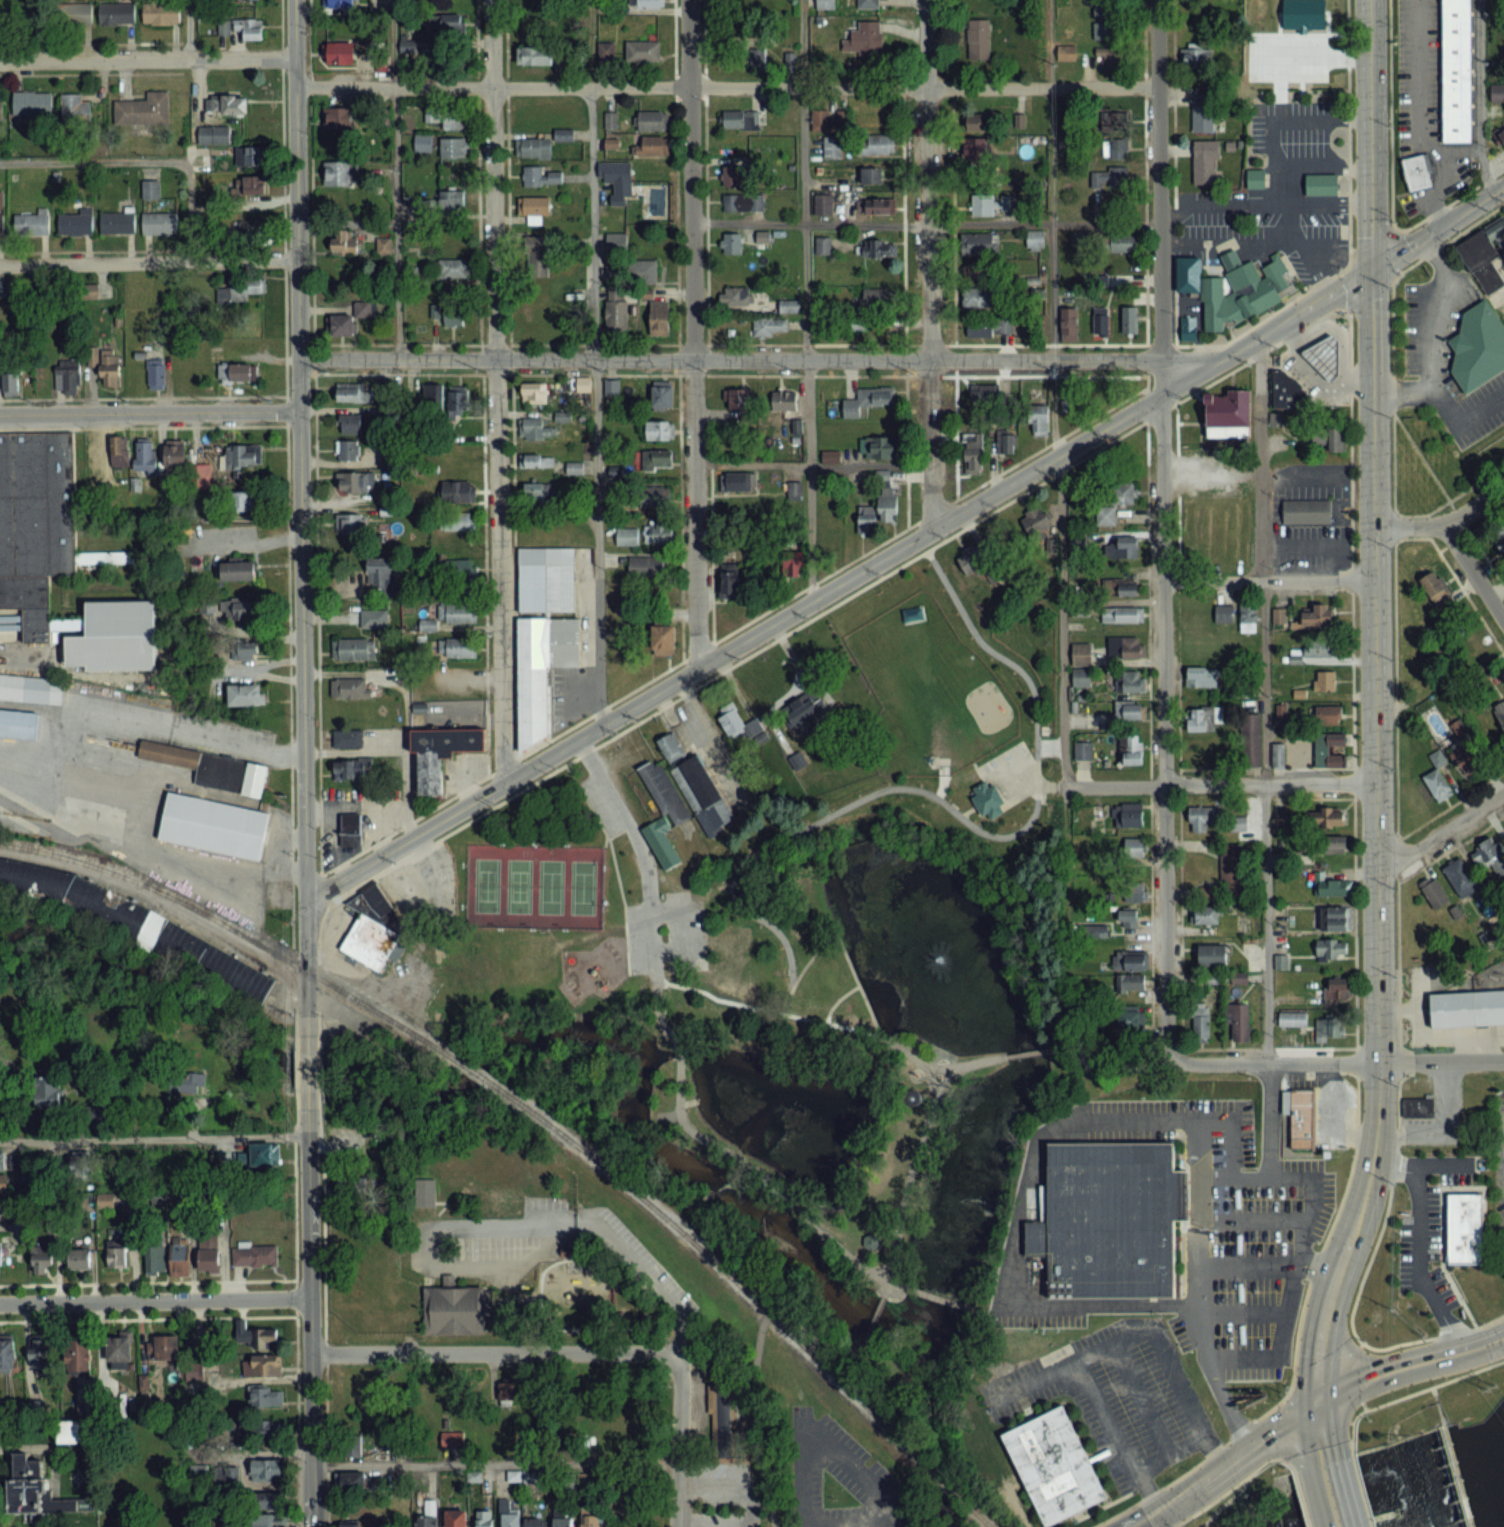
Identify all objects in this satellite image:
building: (246, 0)
building: (338, 3)
building: (650, 3)
building: (867, 4)
building: (74, 13)
building: (161, 13)
building: (116, 14)
building: (445, 23)
building: (1102, 23)
building: (223, 26)
road: (188, 28)
building: (249, 28)
building: (864, 39)
building: (978, 39)
building: (1314, 39)
building: (410, 49)
building: (606, 51)
building: (643, 51)
building: (338, 53)
building: (1067, 53)
building: (534, 56)
building: (1198, 56)
road: (147, 57)
building: (1109, 57)
building: (382, 65)
building: (1453, 69)
road: (727, 85)
building: (994, 85)
building: (1497, 93)
road: (1476, 99)
building: (32, 103)
building: (226, 104)
building: (1, 107)
building: (75, 108)
building: (1203, 108)
building: (144, 109)
road: (1418, 114)
building: (337, 118)
building: (447, 118)
building: (1112, 118)
road: (1295, 118)
building: (740, 119)
building: (652, 120)
building: (823, 121)
building: (1020, 121)
building: (977, 122)
building: (214, 135)
building: (1500, 139)
building: (422, 144)
building: (876, 144)
building: (651, 145)
building: (832, 147)
building: (455, 148)
building: (534, 149)
building: (975, 149)
building: (1115, 149)
building: (250, 156)
road: (141, 160)
building: (1205, 162)
road: (1322, 168)
building: (1414, 170)
building: (337, 173)
building: (870, 175)
building: (734, 176)
building: (1253, 176)
building: (543, 177)
building: (1109, 177)
road: (394, 178)
road: (1051, 178)
building: (616, 179)
building: (1318, 181)
building: (250, 185)
building: (151, 189)
building: (451, 202)
building: (743, 202)
road: (1215, 202)
road: (1325, 202)
building: (822, 205)
building: (982, 205)
building: (534, 206)
building: (879, 206)
building: (117, 220)
building: (75, 222)
road: (926, 222)
building: (33, 223)
building: (160, 223)
road: (345, 223)
building: (1, 226)
building: (247, 230)
road: (1292, 234)
building: (763, 236)
road: (1372, 239)
building: (343, 241)
building: (615, 241)
building: (731, 242)
road: (1239, 242)
building: (979, 243)
building: (1120, 244)
building: (822, 245)
building: (384, 246)
building: (876, 249)
road: (1348, 254)
road: (1393, 254)
building: (537, 257)
building: (1484, 257)
road: (148, 261)
road: (926, 263)
building: (455, 268)
traffic signals: (1372, 268)
building: (979, 271)
building: (1185, 271)
building: (645, 272)
building: (1105, 284)
road: (1348, 284)
building: (1238, 288)
building: (238, 290)
building: (88, 292)
road: (1367, 293)
building: (734, 296)
building: (978, 298)
road: (804, 299)
building: (873, 302)
building: (790, 305)
building: (447, 313)
building: (616, 317)
building: (660, 317)
building: (349, 320)
building: (1101, 320)
building: (1129, 320)
building: (1069, 324)
building: (1185, 326)
building: (768, 327)
building: (989, 327)
road: (692, 332)
road: (1434, 339)
building: (1476, 345)
building: (1322, 353)
road: (761, 358)
road: (593, 361)
building: (106, 364)
building: (243, 372)
building: (156, 373)
building: (10, 377)
building: (67, 377)
building: (583, 384)
building: (612, 387)
building: (1286, 389)
road: (494, 392)
building: (982, 392)
building: (534, 393)
building: (354, 394)
building: (433, 395)
building: (662, 395)
building: (459, 397)
building: (737, 399)
building: (784, 399)
building: (867, 400)
road: (150, 410)
building: (1226, 412)
road: (1462, 417)
building: (1041, 420)
building: (350, 424)
building: (534, 429)
building: (657, 430)
building: (1329, 439)
building: (1005, 442)
building: (880, 447)
building: (108, 450)
building: (348, 450)
building: (973, 452)
building: (175, 454)
building: (145, 455)
building: (243, 455)
building: (830, 457)
building: (388, 458)
building: (656, 459)
building: (536, 461)
road: (811, 463)
building: (574, 467)
building: (739, 481)
building: (355, 482)
building: (794, 487)
building: (458, 491)
building: (536, 493)
building: (650, 498)
building: (246, 500)
building: (1115, 503)
building: (887, 504)
road: (301, 506)
road: (1476, 507)
building: (1304, 508)
building: (831, 514)
building: (458, 520)
building: (866, 522)
building: (1036, 522)
building: (351, 523)
building: (657, 532)
road: (1163, 532)
building: (627, 536)
building: (1499, 539)
building: (828, 540)
road: (1456, 540)
road: (904, 544)
building: (1122, 548)
building: (57, 556)
building: (976, 561)
building: (793, 564)
building: (646, 565)
building: (238, 568)
building: (461, 576)
building: (380, 577)
building: (543, 577)
road: (1269, 580)
building: (729, 581)
building: (1122, 587)
building: (1436, 590)
building: (206, 606)
building: (238, 608)
building: (1224, 612)
building: (458, 613)
building: (1122, 614)
building: (1279, 615)
building: (1317, 616)
road: (810, 617)
building: (1248, 617)
building: (373, 618)
building: (663, 640)
building: (1126, 646)
building: (353, 648)
building: (456, 648)
building: (1318, 649)
building: (242, 650)
building: (1082, 653)
building: (538, 666)
road: (1062, 670)
building: (1201, 675)
building: (1082, 677)
building: (1325, 680)
building: (1130, 681)
building: (30, 687)
building: (350, 687)
road: (821, 689)
road: (786, 693)
building: (244, 695)
road: (1263, 699)
building: (1128, 710)
building: (807, 712)
building: (1328, 715)
building: (1500, 715)
building: (1203, 716)
building: (735, 721)
building: (16, 722)
building: (1459, 728)
road: (1376, 737)
building: (347, 738)
building: (1252, 740)
road: (354, 750)
building: (1083, 750)
building: (1328, 750)
building: (442, 753)
building: (1133, 753)
building: (1278, 756)
building: (795, 760)
road: (404, 761)
building: (207, 765)
building: (350, 768)
road: (55, 770)
road: (943, 774)
parking lot: (1012, 774)
road: (1031, 776)
building: (1438, 779)
road: (1270, 783)
building: (698, 787)
building: (982, 795)
road: (945, 803)
road: (967, 810)
building: (663, 813)
building: (1128, 815)
building: (1202, 816)
building: (1329, 817)
building: (210, 823)
building: (1239, 823)
building: (350, 824)
road: (1444, 835)
road: (1352, 842)
building: (1332, 843)
road: (636, 844)
building: (1134, 848)
building: (1490, 856)
railway: (95, 865)
building: (1231, 868)
building: (1463, 879)
park: (484, 883)
park: (516, 884)
park: (548, 885)
park: (580, 886)
building: (1330, 886)
building: (1133, 892)
building: (1435, 894)
building: (85, 899)
building: (1204, 914)
building: (1128, 918)
building: (1335, 918)
building: (367, 926)
parking lot: (685, 930)
building: (726, 943)
road: (840, 948)
building: (1332, 948)
building: (1212, 954)
fountain: (934, 958)
building: (1130, 960)
building: (228, 970)
railway: (319, 978)
building: (1131, 981)
building: (1336, 990)
park: (815, 996)
road: (834, 998)
building: (1465, 1006)
road: (764, 1008)
building: (1292, 1019)
building: (1132, 1020)
building: (1239, 1020)
building: (1201, 1024)
building: (1328, 1029)
road: (884, 1038)
road: (936, 1050)
road: (1026, 1051)
road: (930, 1058)
road: (295, 1059)
road: (316, 1059)
road: (307, 1060)
road: (1109, 1062)
road: (965, 1063)
road: (1340, 1063)
road: (922, 1064)
railway: (473, 1071)
building: (48, 1091)
building: (913, 1096)
building: (1415, 1105)
building: (1299, 1115)
road: (1148, 1118)
road: (1268, 1119)
parking lot: (1165, 1120)
road: (1441, 1129)
road: (1501, 1134)
road: (153, 1137)
parking lot: (1215, 1144)
road: (1498, 1147)
road: (728, 1151)
building: (264, 1154)
building: (9, 1160)
road: (1395, 1164)
road: (1213, 1176)
building: (348, 1186)
building: (425, 1191)
parking lot: (1313, 1191)
road: (903, 1195)
building: (5, 1196)
building: (502, 1199)
parking lot: (543, 1210)
road: (437, 1211)
building: (1106, 1218)
road: (1250, 1219)
road: (517, 1224)
road: (1417, 1224)
building: (1462, 1227)
parking lot: (422, 1247)
parking lot: (498, 1250)
building: (209, 1252)
building: (255, 1255)
building: (117, 1256)
building: (155, 1256)
building: (42, 1259)
building: (80, 1259)
building: (180, 1259)
building: (0, 1260)
road: (1247, 1264)
railway: (718, 1265)
parking lot: (646, 1266)
parking lot: (1249, 1266)
road: (1317, 1266)
road: (447, 1276)
road: (147, 1281)
road: (1197, 1288)
road: (938, 1297)
road: (155, 1300)
building: (454, 1307)
road: (990, 1308)
road: (1241, 1311)
road: (873, 1314)
parking lot: (1042, 1315)
road: (147, 1317)
road: (294, 1317)
road: (312, 1317)
road: (322, 1317)
road: (558, 1328)
parking lot: (1185, 1329)
road: (1124, 1334)
road: (1456, 1336)
road: (817, 1337)
building: (256, 1338)
road: (1353, 1347)
building: (164, 1348)
building: (40, 1351)
building: (119, 1352)
road: (494, 1352)
building: (7, 1353)
building: (78, 1355)
building: (262, 1366)
road: (1294, 1366)
road: (260, 1378)
building: (503, 1391)
road: (1403, 1394)
building: (266, 1396)
road: (1139, 1397)
traffic signals: (1316, 1402)
road: (1278, 1404)
road: (1362, 1405)
road: (1308, 1407)
road: (1103, 1416)
road: (1350, 1421)
building: (722, 1423)
road: (747, 1425)
building: (267, 1430)
building: (69, 1431)
building: (452, 1438)
building: (352, 1441)
road: (680, 1442)
road: (1162, 1454)
road: (1292, 1456)
road: (1203, 1458)
road: (496, 1463)
building: (1051, 1464)
building: (266, 1468)
road: (852, 1468)
building: (1453, 1476)
dam: (1453, 1476)
building: (226, 1477)
building: (353, 1482)
railway: (942, 1483)
parking lot: (718, 1485)
road: (734, 1485)
road: (1229, 1488)
building: (34, 1489)
road: (1299, 1495)
road: (1330, 1496)
road: (1363, 1498)
building: (267, 1500)
road: (1224, 1502)
road: (760, 1506)
railway: (974, 1514)
building: (564, 1517)
building: (590, 1517)
building: (455, 1518)
building: (484, 1518)
building: (511, 1518)
parking lot: (718, 1520)
building: (534, 1523)
building: (356, 1524)
river: (1497, 1524)
road: (852, 1526)

